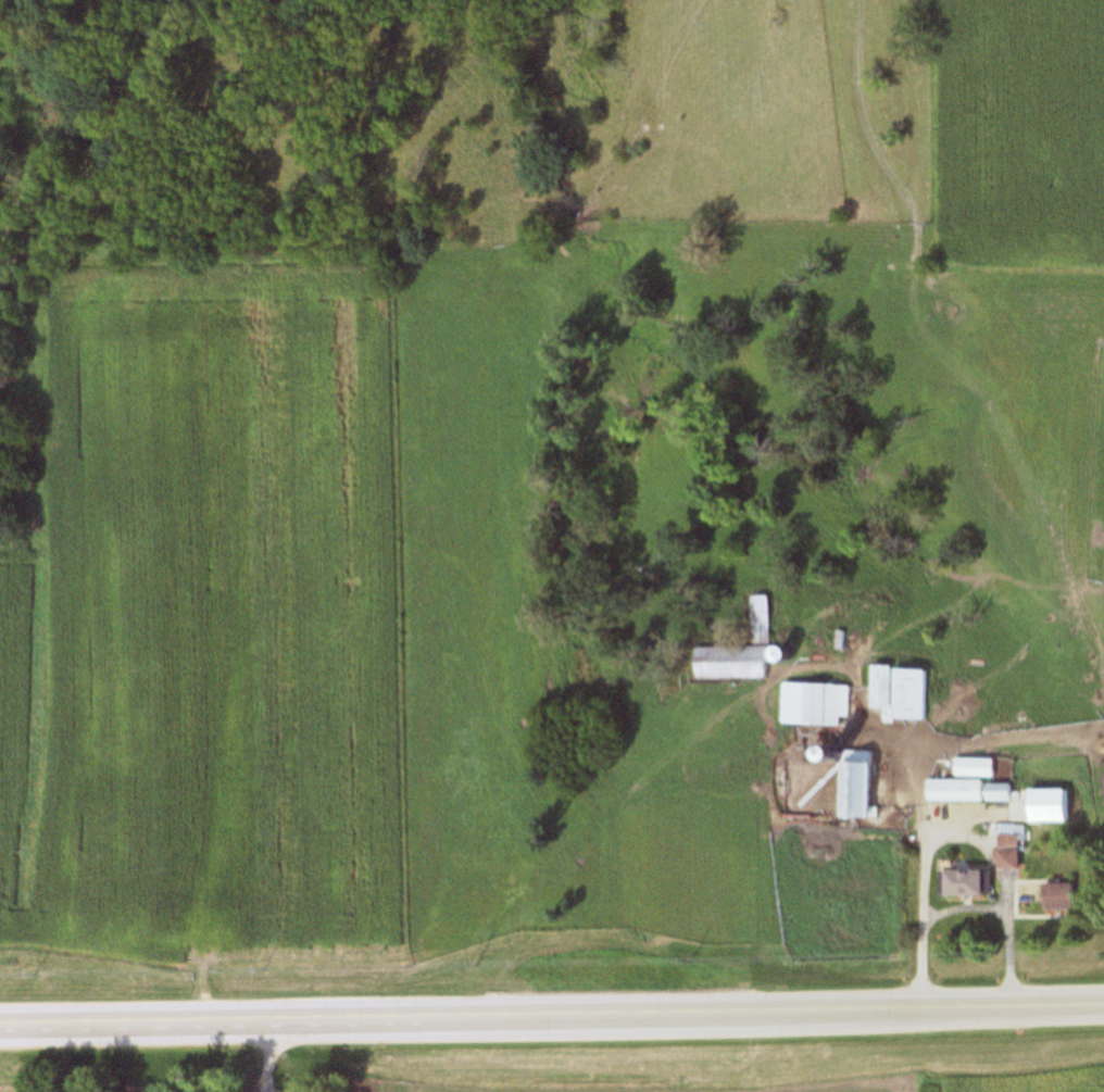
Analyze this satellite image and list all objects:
building: (739, 652)
building: (899, 693)
building: (813, 704)
building: (940, 731)
building: (973, 767)
building: (854, 786)
building: (968, 791)
building: (1007, 845)
building: (959, 883)
building: (1053, 898)
road: (552, 1015)

